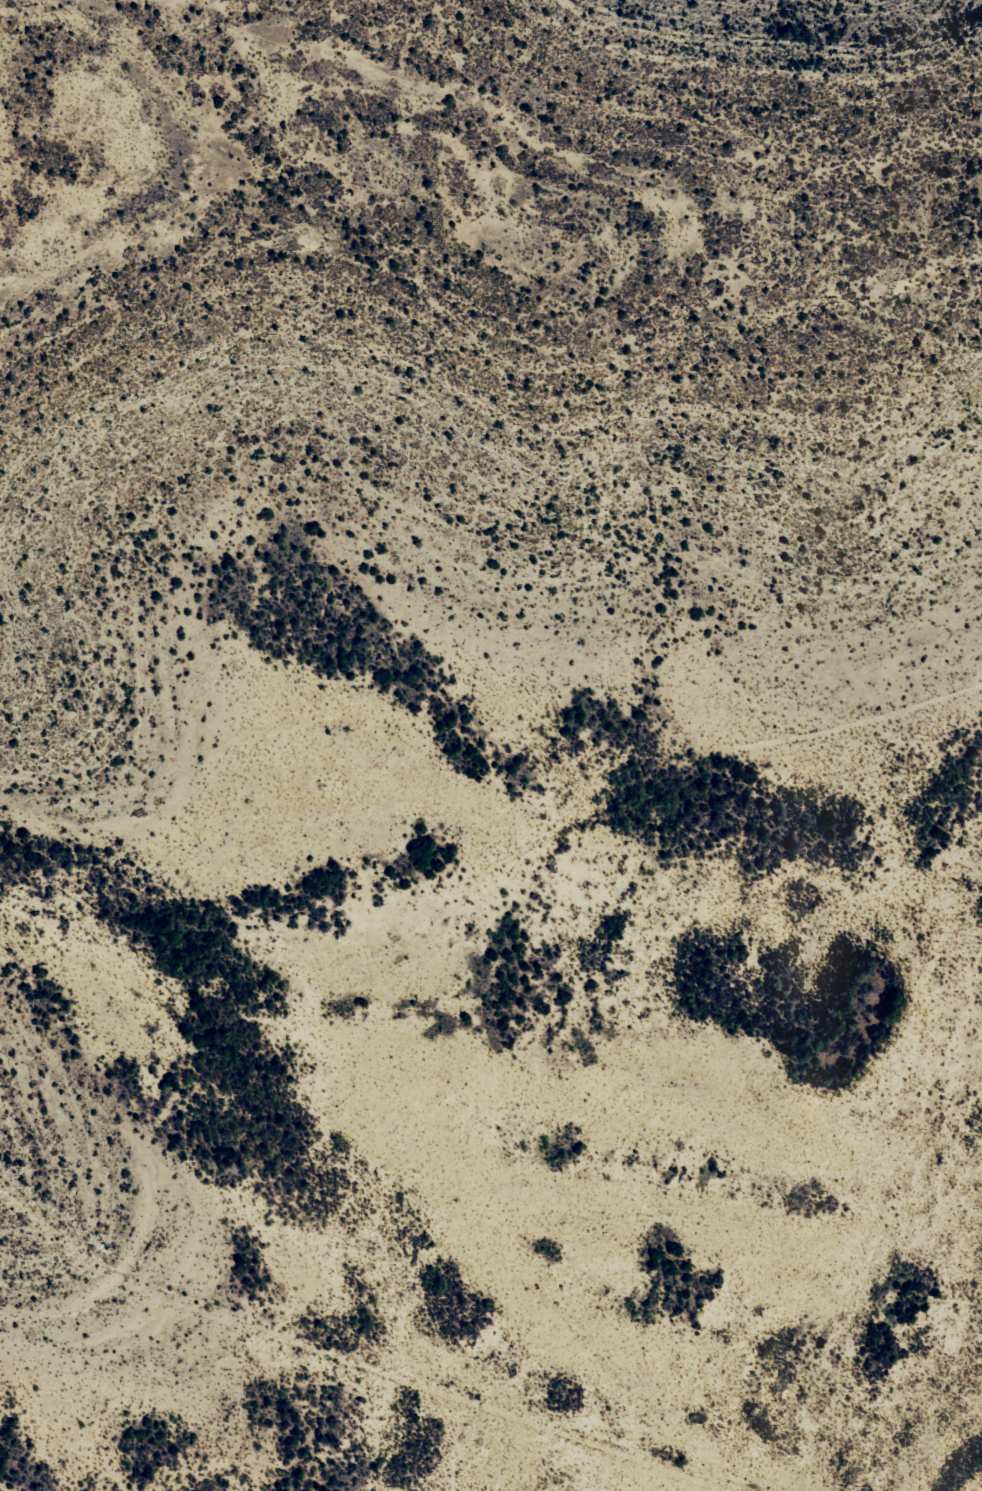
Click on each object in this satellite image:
road: (953, 1460)

